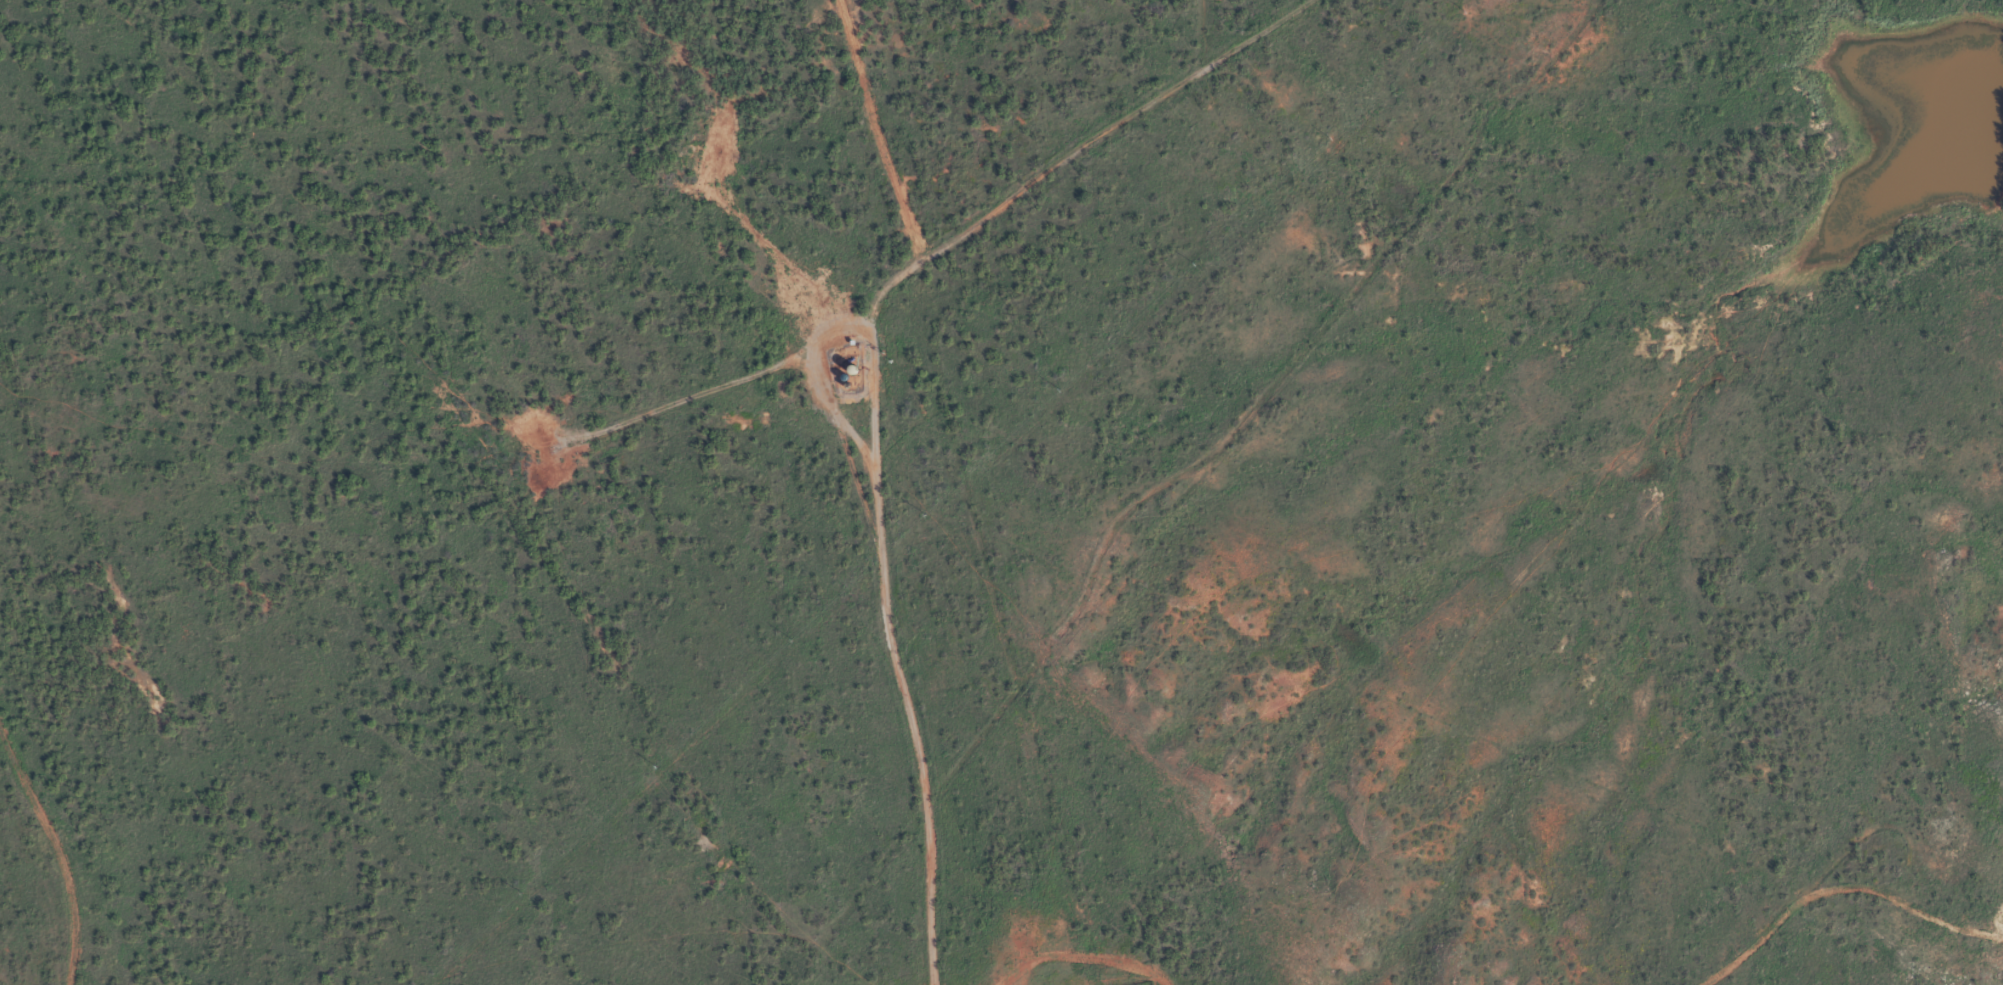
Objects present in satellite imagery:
road: (1260, 122)
road: (1094, 148)
road: (972, 492)
road: (874, 544)
road: (42, 849)
road: (827, 923)

